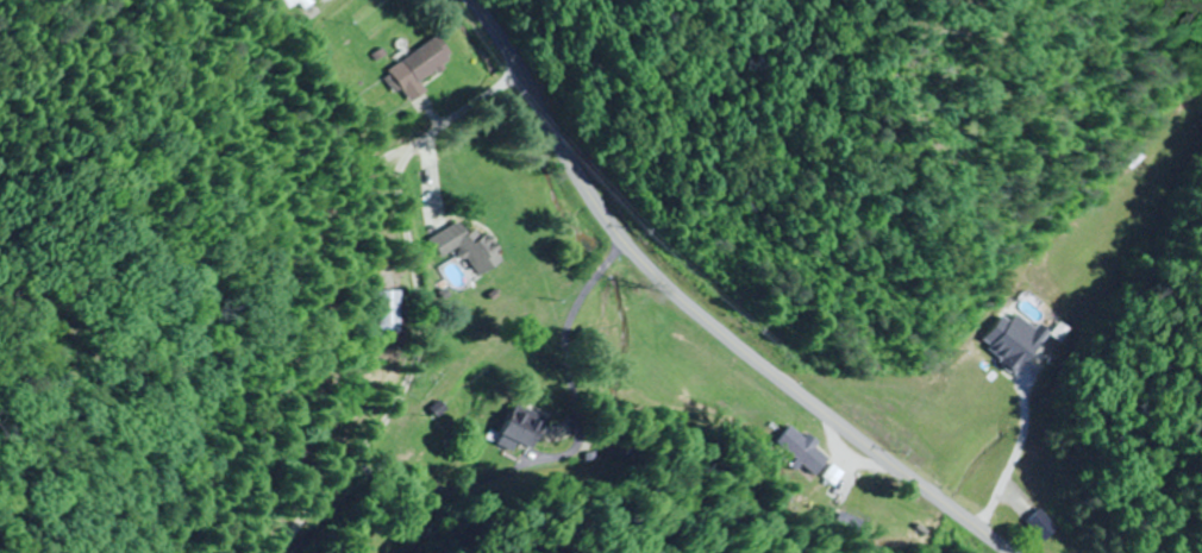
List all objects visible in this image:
building: (302, 2)
building: (415, 68)
building: (467, 246)
road: (421, 308)
building: (390, 314)
road: (694, 314)
building: (522, 421)
building: (1035, 458)
building: (824, 467)

